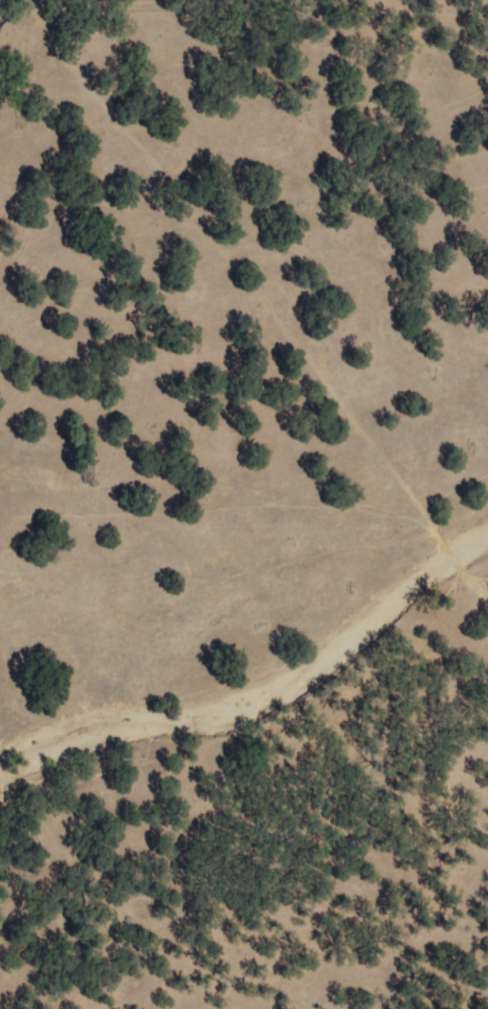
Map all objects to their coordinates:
river: (263, 703)

